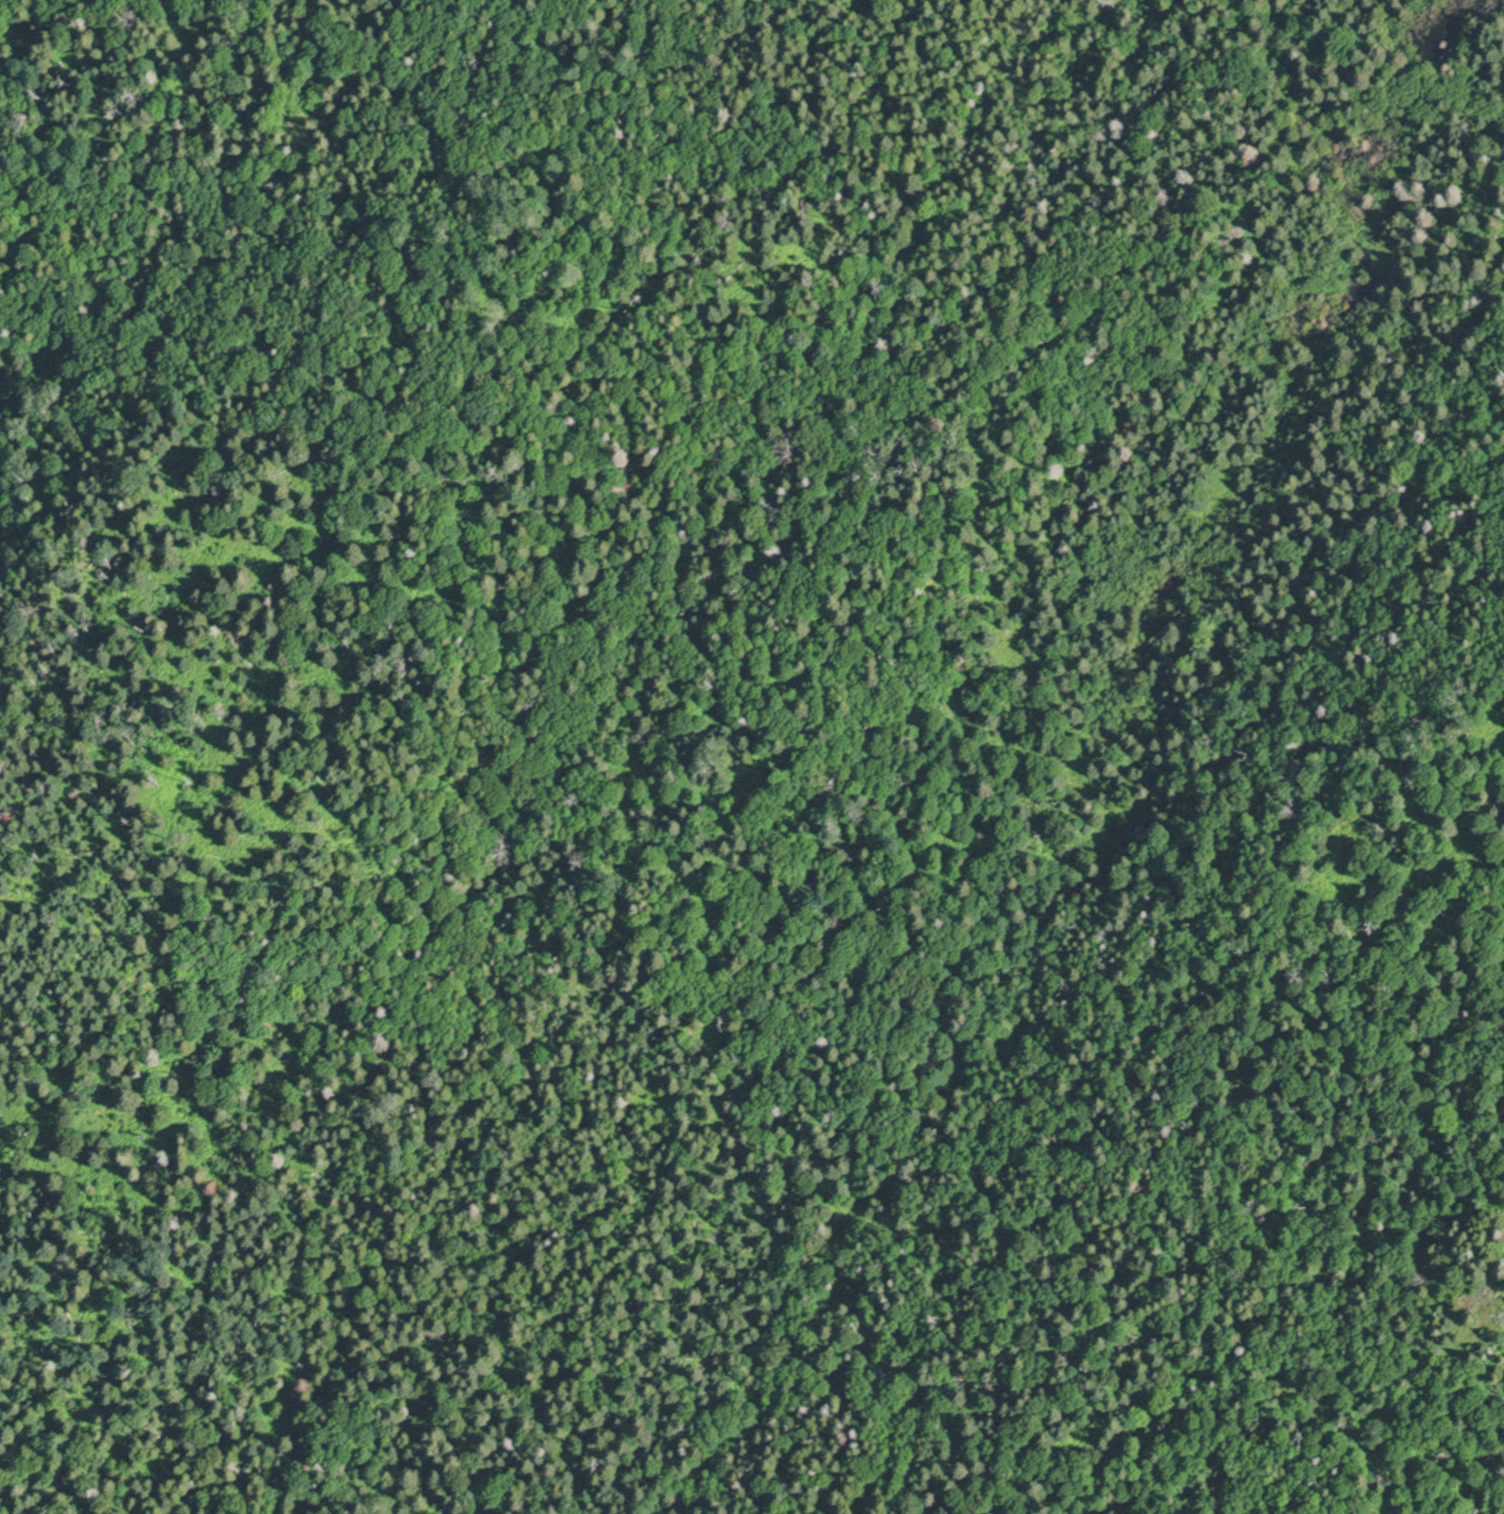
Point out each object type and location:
road: (1425, 1434)

